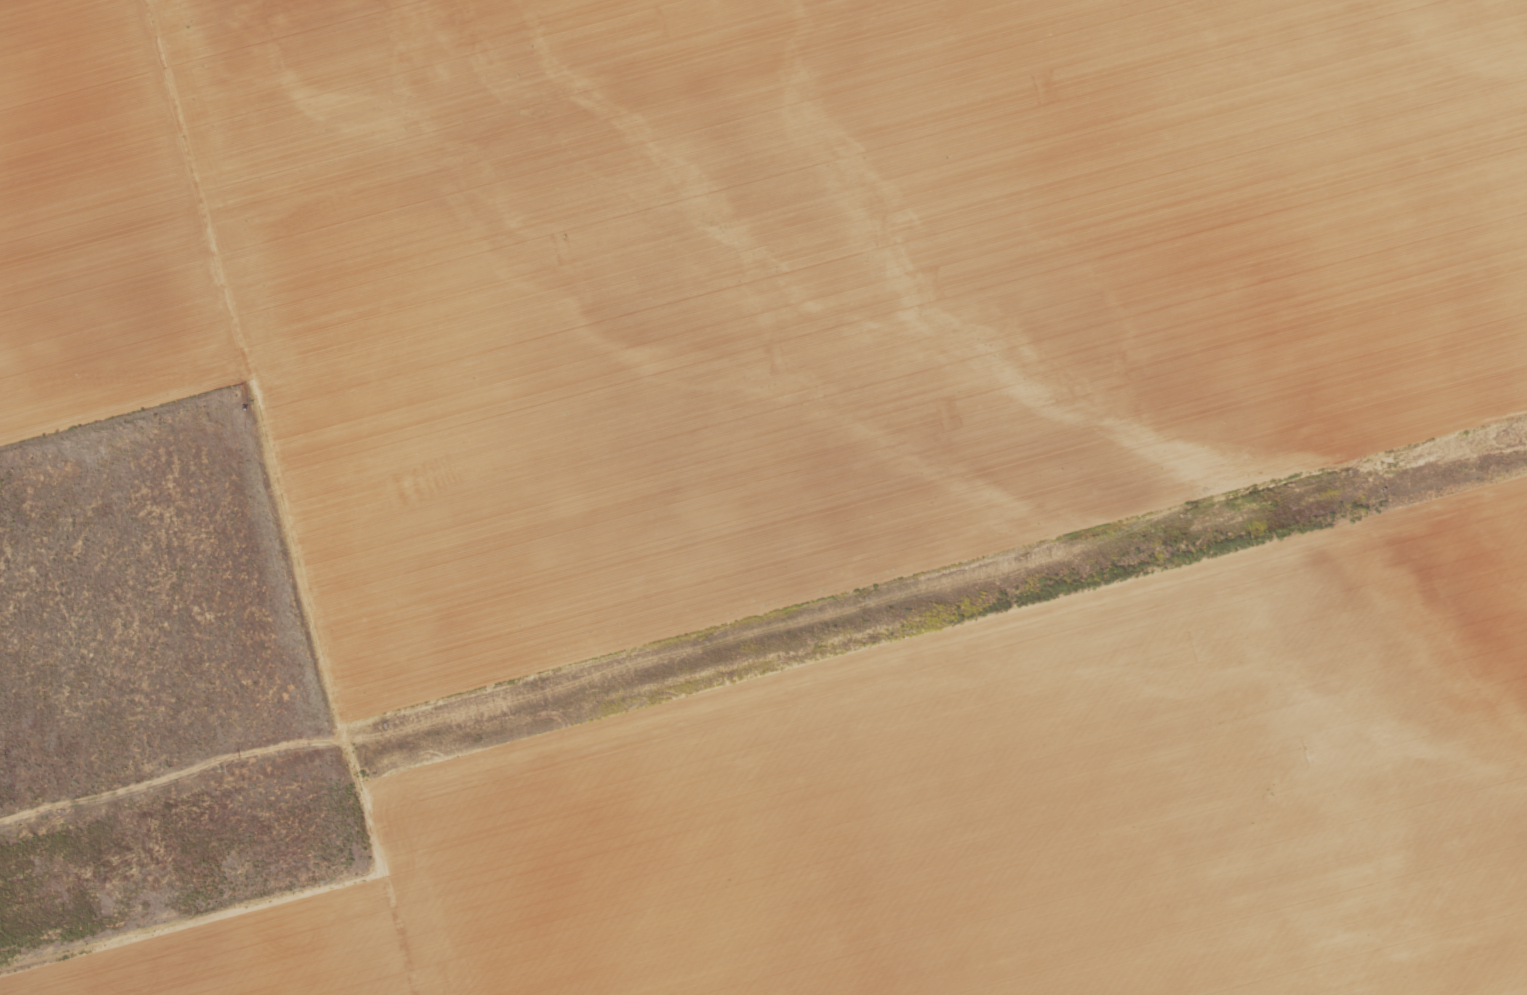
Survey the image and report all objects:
road: (76, 837)
building: (128, 872)

